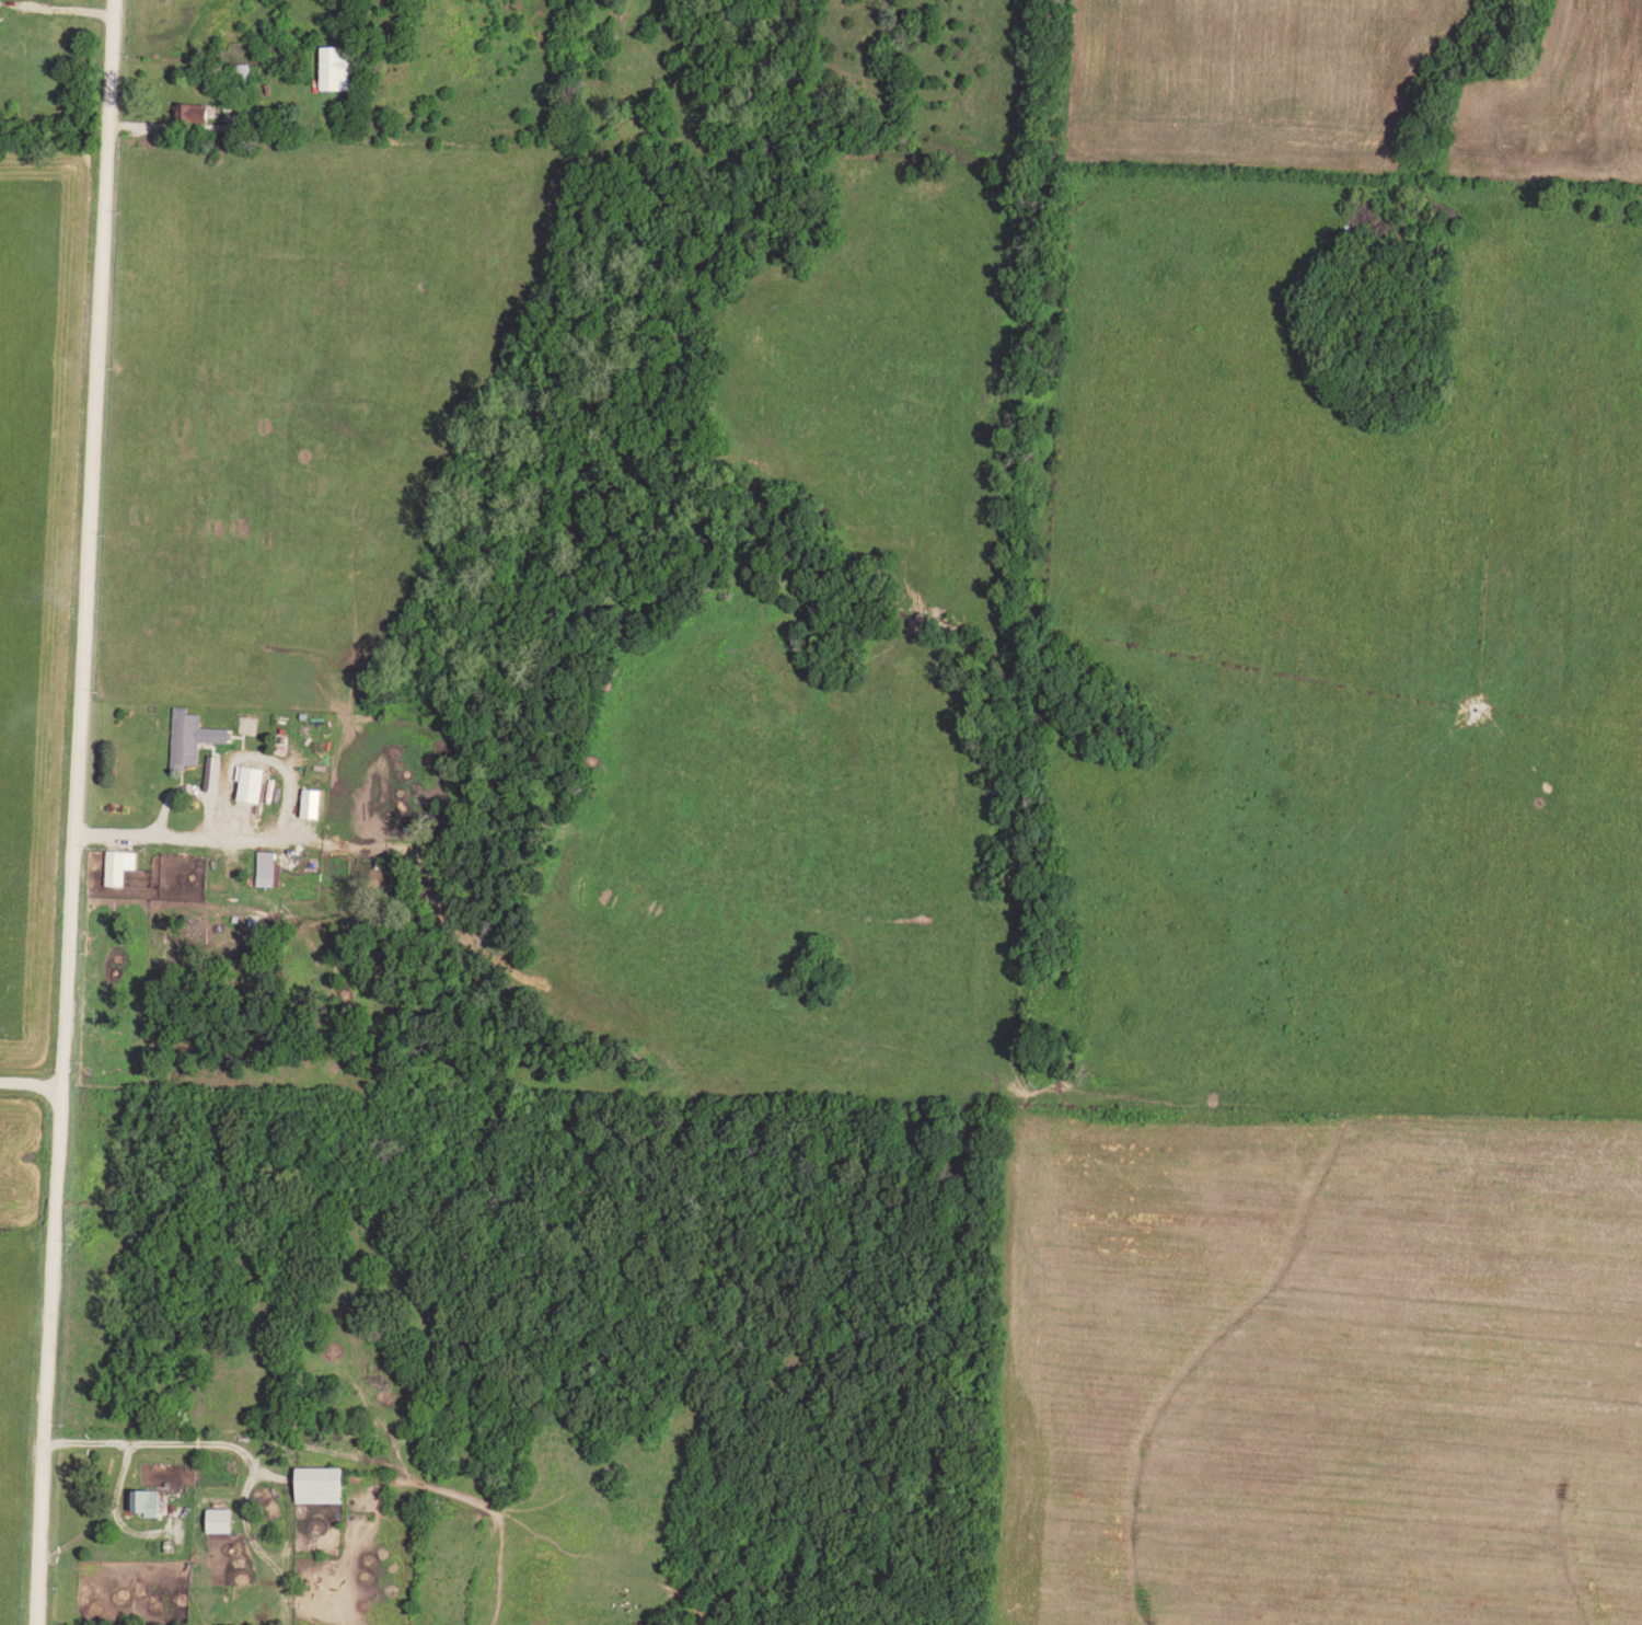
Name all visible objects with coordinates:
road: (70, 7)
building: (335, 66)
building: (193, 111)
building: (190, 734)
building: (212, 771)
building: (250, 781)
building: (311, 802)
road: (73, 811)
road: (193, 839)
building: (118, 864)
building: (266, 866)
road: (30, 1084)
road: (171, 1441)
building: (320, 1482)
building: (144, 1500)
building: (219, 1518)

